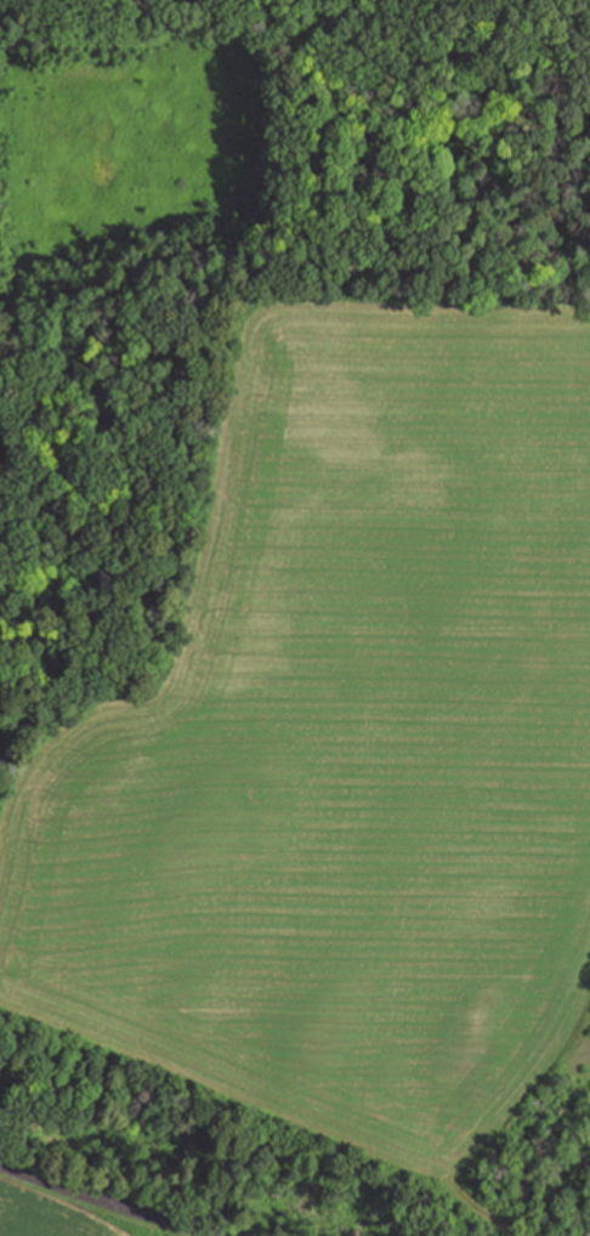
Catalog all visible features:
road: (110, 1203)

